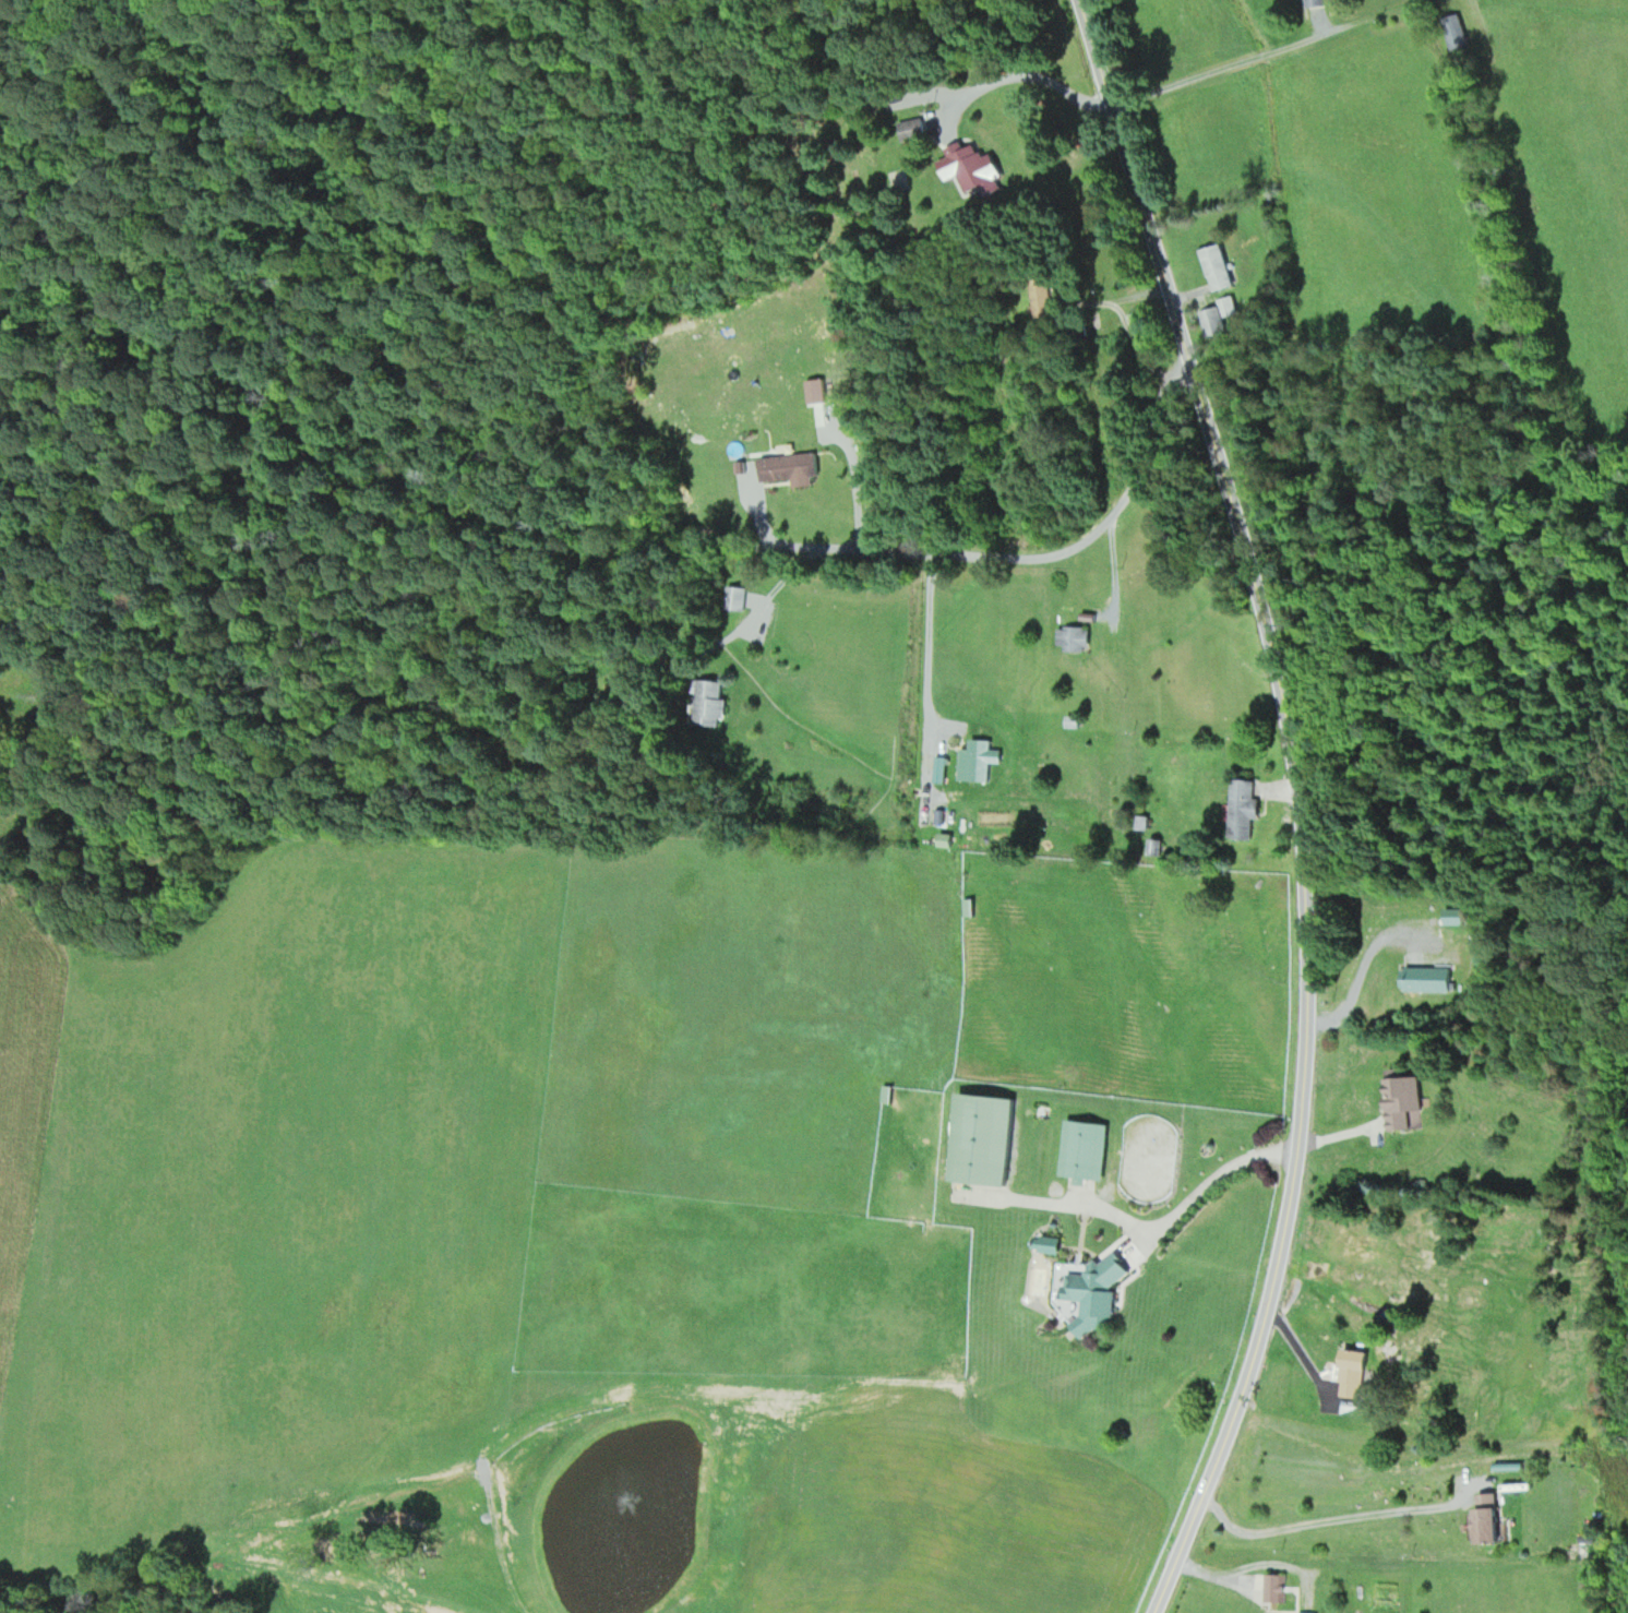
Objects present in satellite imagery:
building: (1315, 2)
road: (613, 9)
building: (1455, 32)
building: (911, 130)
building: (972, 165)
building: (1217, 266)
building: (1043, 296)
building: (1211, 321)
building: (815, 390)
building: (788, 466)
road: (1626, 500)
building: (735, 597)
building: (1073, 637)
building: (708, 702)
building: (981, 758)
road: (1297, 805)
building: (1243, 809)
building: (1425, 978)
building: (886, 1094)
building: (1403, 1103)
building: (984, 1138)
building: (1084, 1149)
building: (1091, 1290)
building: (1352, 1373)
building: (1488, 1519)
building: (1273, 1587)

